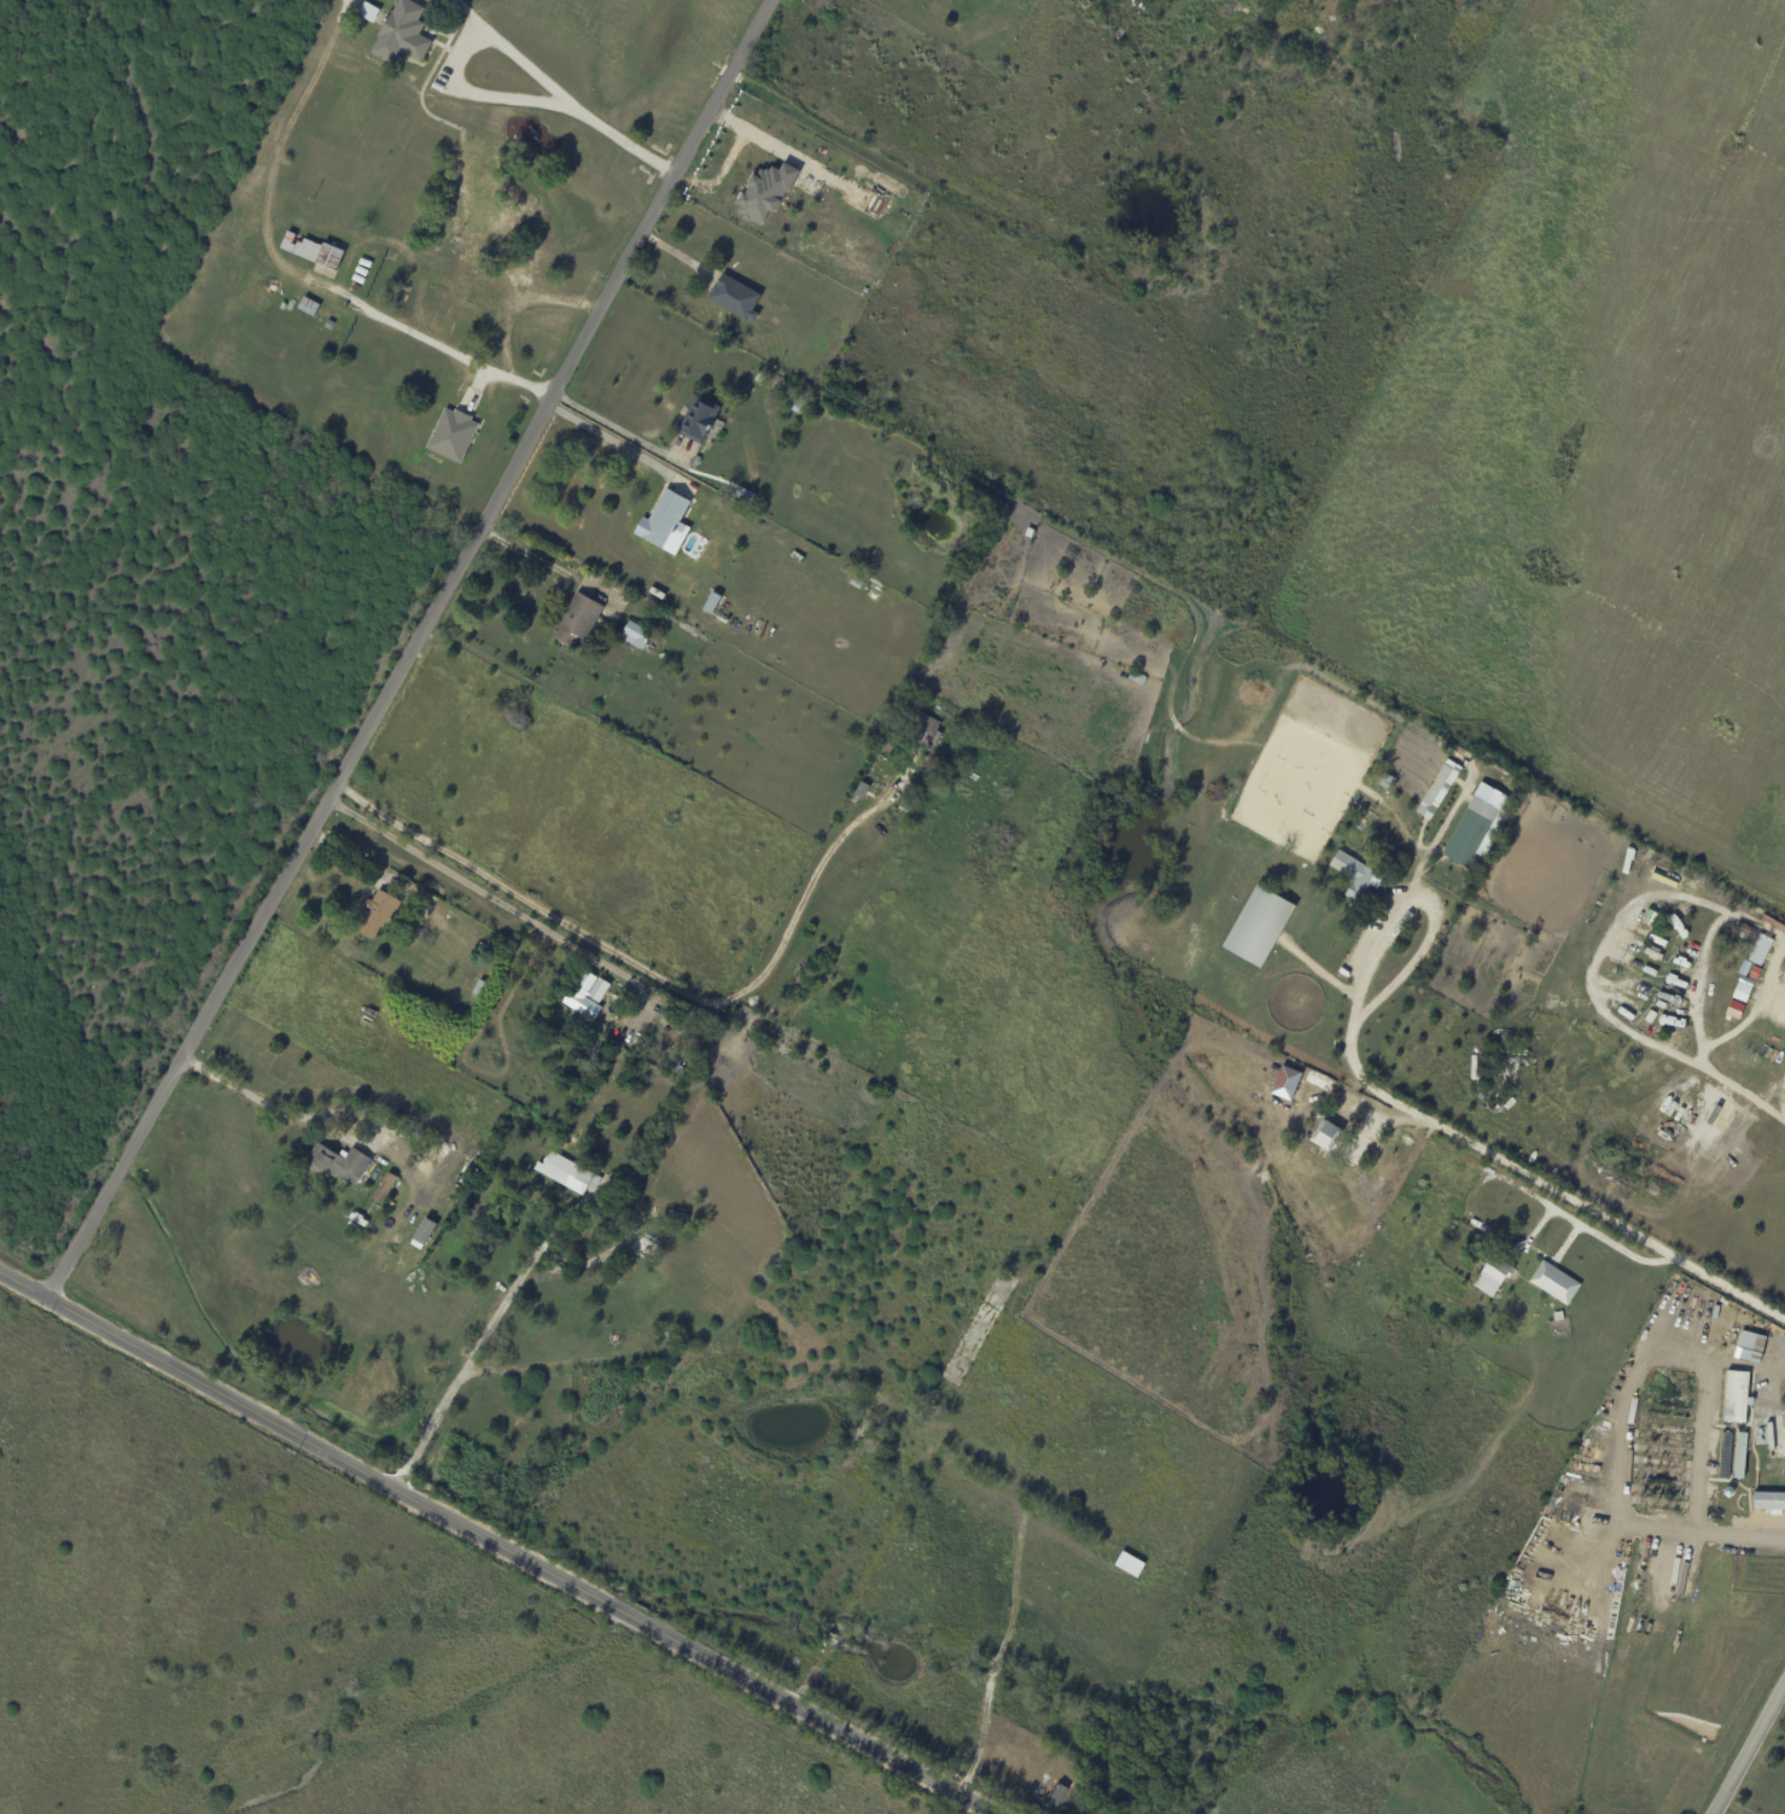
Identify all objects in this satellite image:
building: (911, 0)
building: (1128, 0)
building: (369, 13)
building: (401, 34)
road: (504, 53)
road: (1784, 119)
building: (768, 192)
building: (486, 197)
building: (314, 250)
building: (369, 257)
building: (366, 263)
building: (362, 272)
building: (358, 280)
building: (355, 287)
building: (735, 298)
building: (308, 308)
road: (519, 310)
building: (327, 314)
building: (336, 319)
road: (1669, 321)
road: (434, 349)
building: (809, 357)
building: (762, 380)
building: (791, 402)
building: (698, 420)
road: (616, 424)
building: (451, 436)
road: (617, 443)
building: (696, 461)
building: (745, 496)
building: (664, 520)
building: (1029, 533)
building: (652, 591)
road: (1669, 594)
building: (711, 603)
building: (577, 622)
building: (1142, 637)
road: (408, 648)
building: (1132, 675)
building: (923, 733)
building: (992, 737)
building: (974, 777)
building: (1386, 780)
building: (1439, 789)
building: (917, 791)
building: (905, 806)
building: (1471, 832)
building: (1355, 875)
road: (1433, 893)
road: (506, 904)
building: (373, 914)
building: (1259, 926)
building: (1744, 928)
building: (1766, 939)
building: (1756, 958)
road: (638, 967)
building: (1744, 968)
building: (1784, 976)
road: (1587, 982)
building: (1748, 985)
building: (479, 988)
building: (583, 999)
building: (1736, 1008)
building: (690, 1016)
building: (1287, 1083)
road: (322, 1126)
building: (1326, 1136)
building: (338, 1163)
building: (562, 1168)
road: (1542, 1183)
building: (384, 1188)
building: (424, 1233)
road: (1610, 1243)
building: (643, 1249)
building: (1493, 1276)
building: (1556, 1283)
building: (1558, 1316)
building: (669, 1337)
road: (480, 1342)
building: (1751, 1348)
road: (1771, 1375)
building: (1737, 1395)
building: (1771, 1435)
building: (1733, 1454)
building: (1769, 1499)
road: (486, 1548)
road: (1780, 1696)
road: (1746, 1745)

